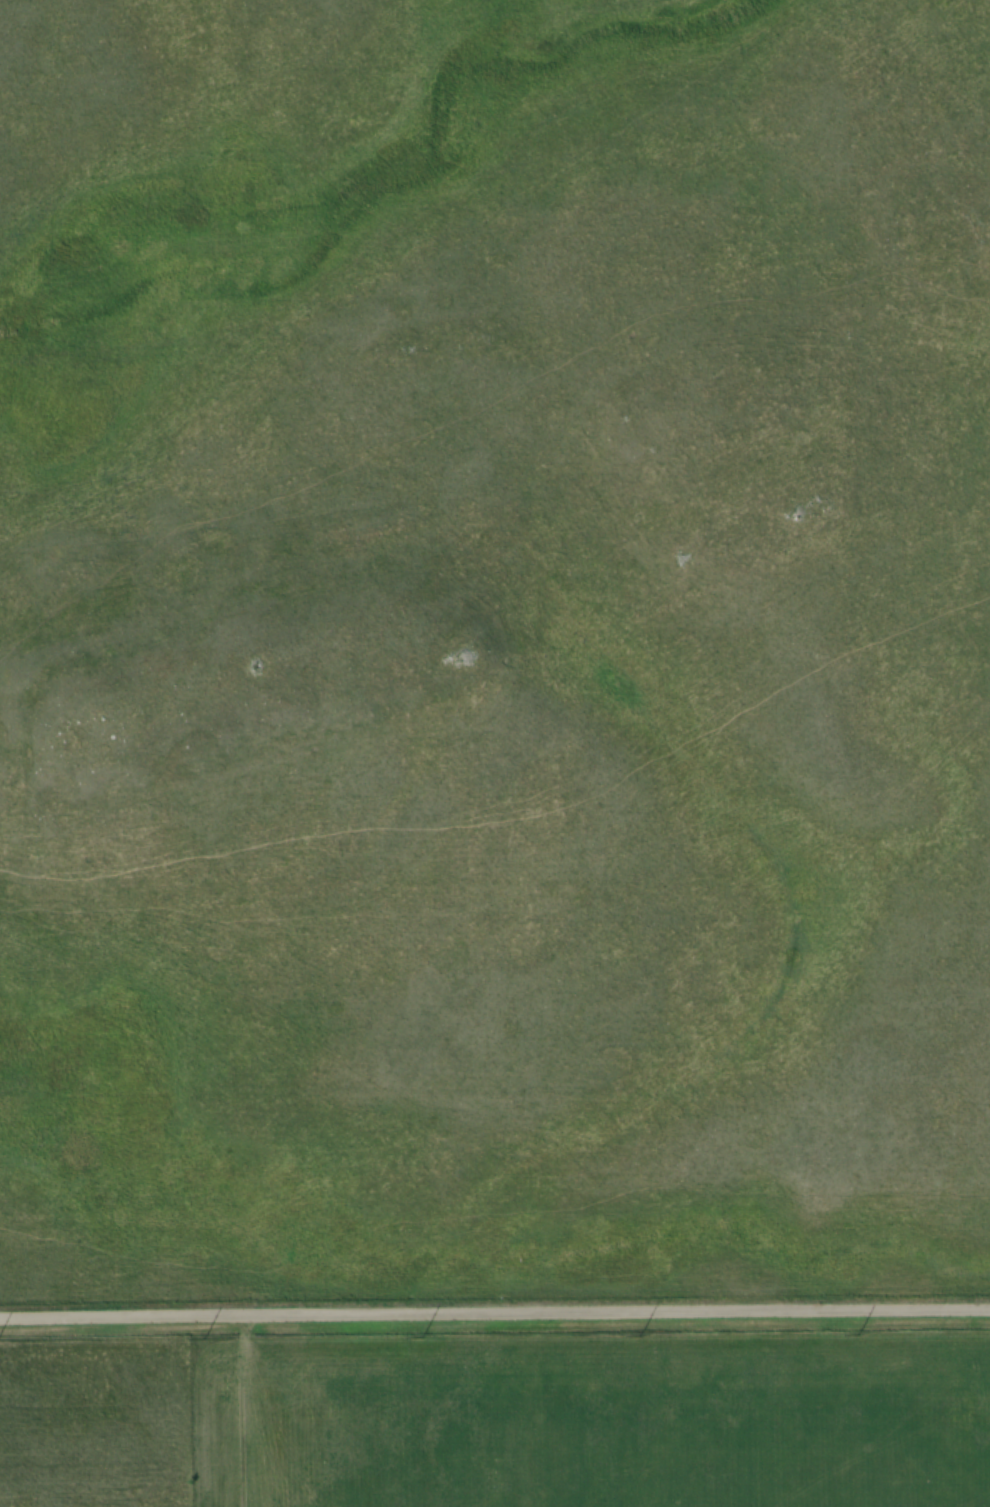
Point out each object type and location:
road: (495, 1321)

